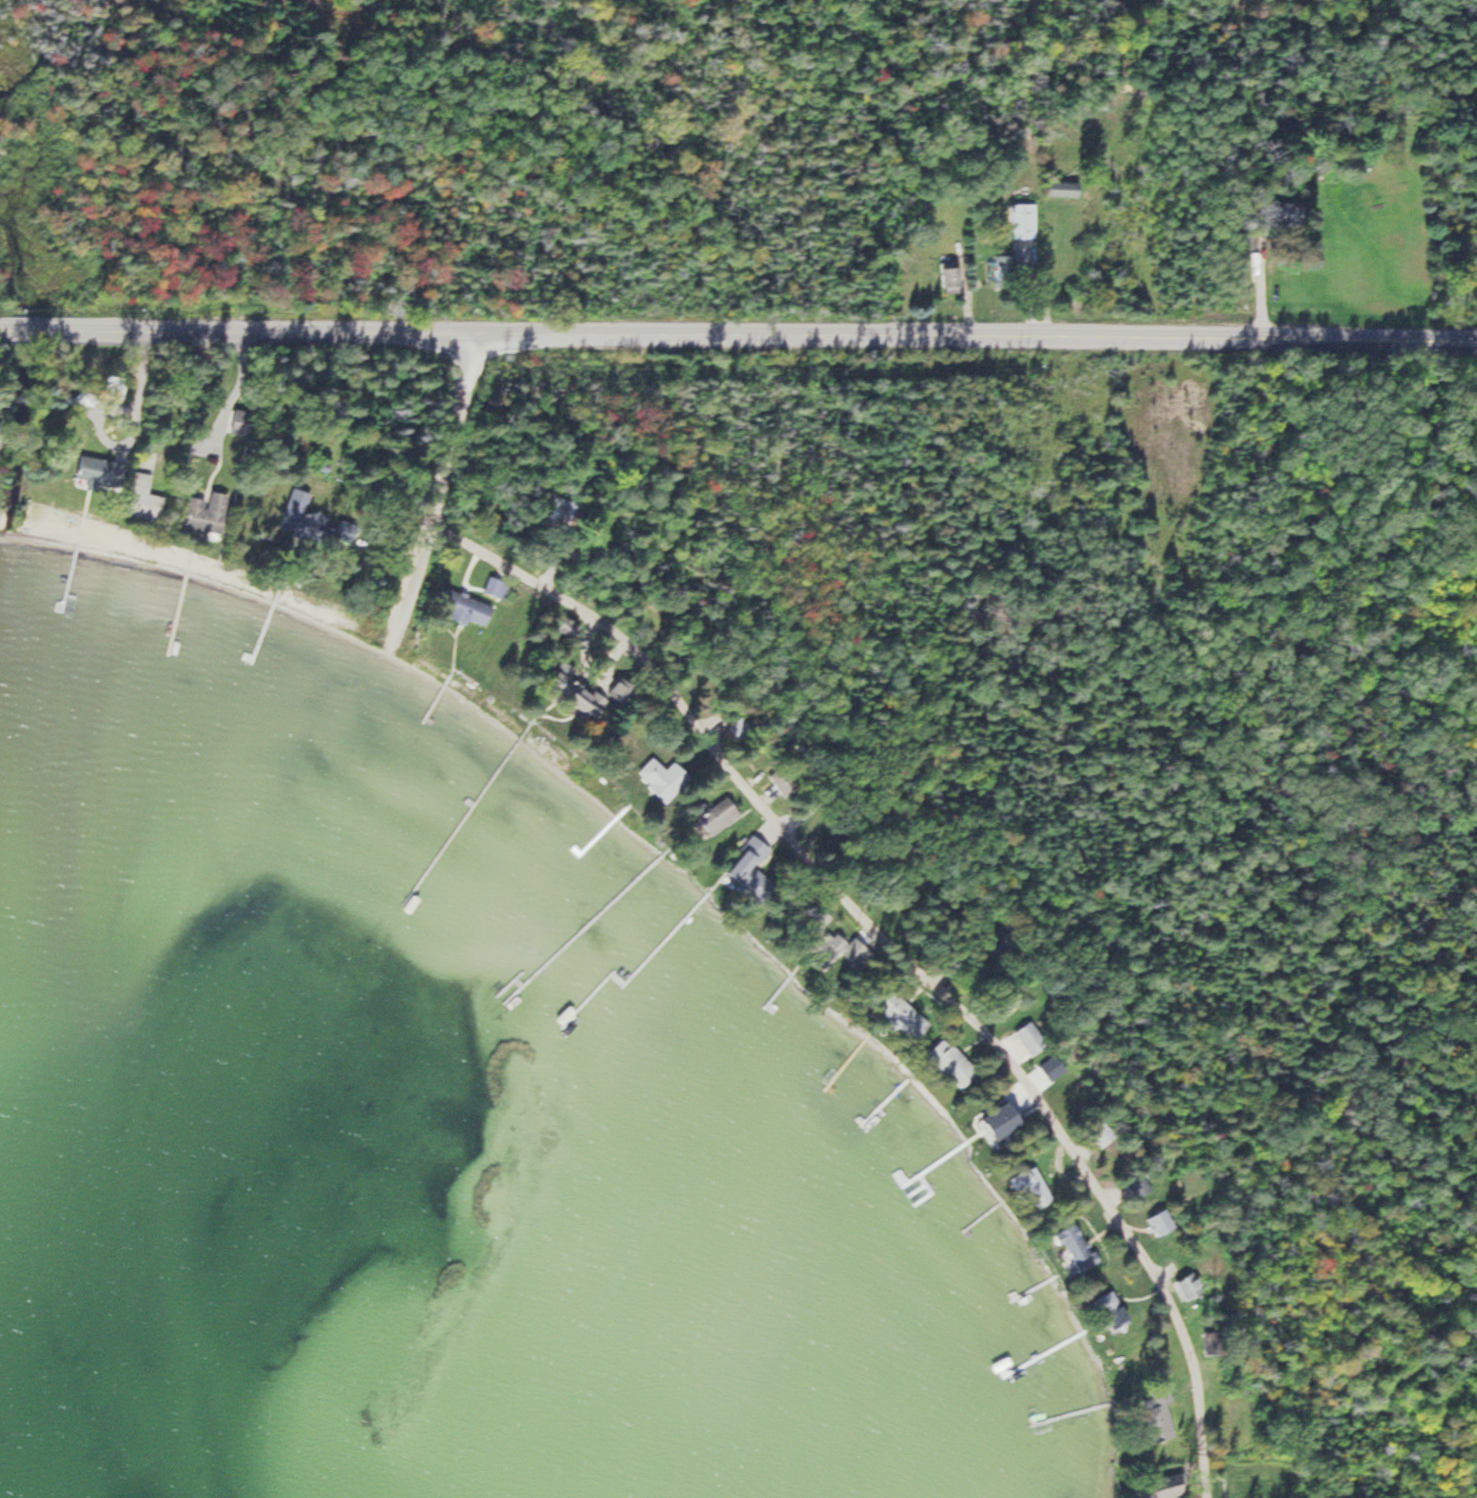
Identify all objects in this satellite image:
building: (1061, 190)
building: (1288, 215)
building: (1022, 221)
building: (1001, 274)
building: (949, 280)
road: (132, 329)
road: (870, 336)
road: (466, 358)
road: (232, 386)
building: (114, 388)
road: (445, 453)
building: (101, 471)
building: (142, 498)
building: (563, 513)
building: (205, 517)
building: (311, 520)
road: (391, 547)
road: (412, 576)
building: (494, 587)
building: (464, 606)
building: (577, 695)
building: (738, 728)
building: (661, 776)
building: (782, 781)
building: (717, 816)
building: (751, 866)
building: (838, 945)
building: (999, 946)
road: (900, 951)
building: (902, 1016)
building: (1029, 1039)
building: (952, 1064)
building: (1003, 1120)
building: (1026, 1184)
building: (1137, 1185)
building: (1156, 1219)
building: (1071, 1241)
building: (1189, 1287)
building: (1111, 1311)
building: (1168, 1488)

